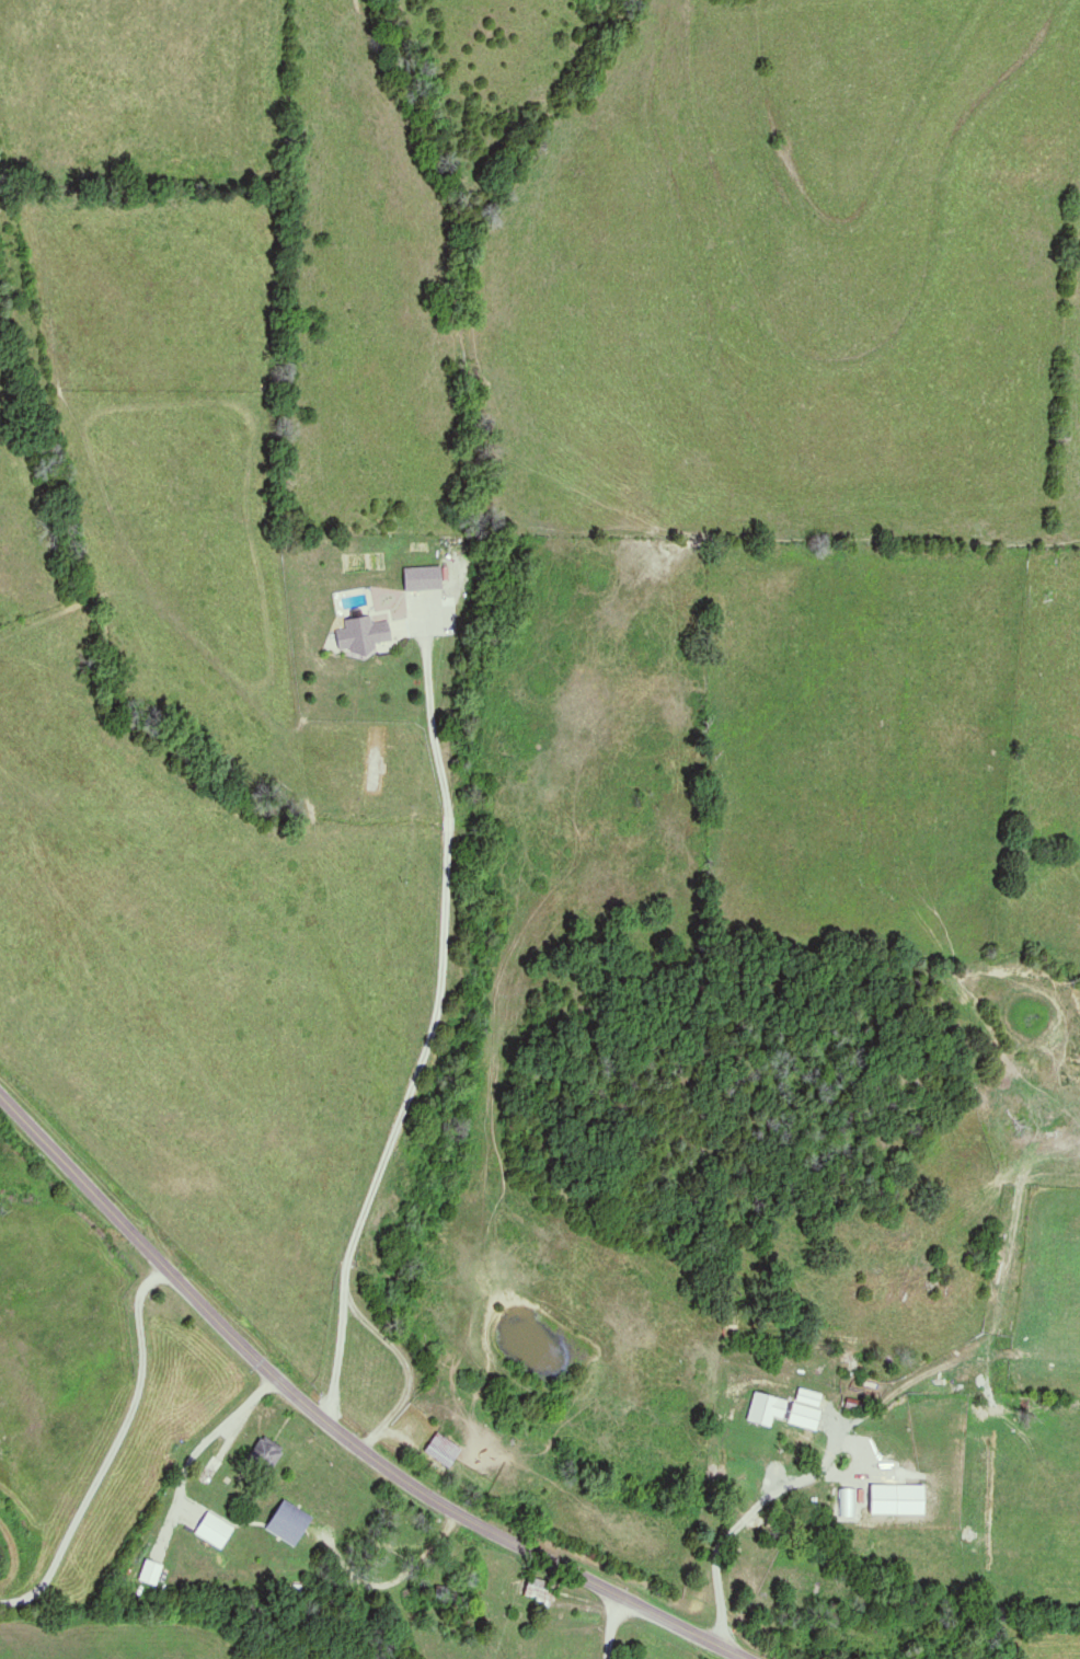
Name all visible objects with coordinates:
building: (421, 578)
building: (363, 634)
building: (374, 768)
building: (775, 1408)
road: (336, 1428)
road: (110, 1450)
building: (210, 1465)
building: (284, 1521)
building: (210, 1529)
building: (536, 1588)
road: (609, 1626)

